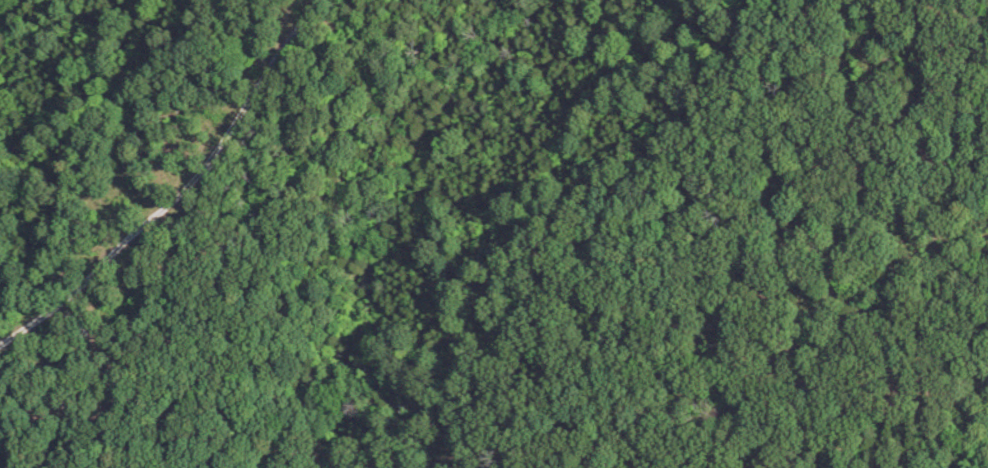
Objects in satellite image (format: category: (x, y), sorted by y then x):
road: (184, 196)

